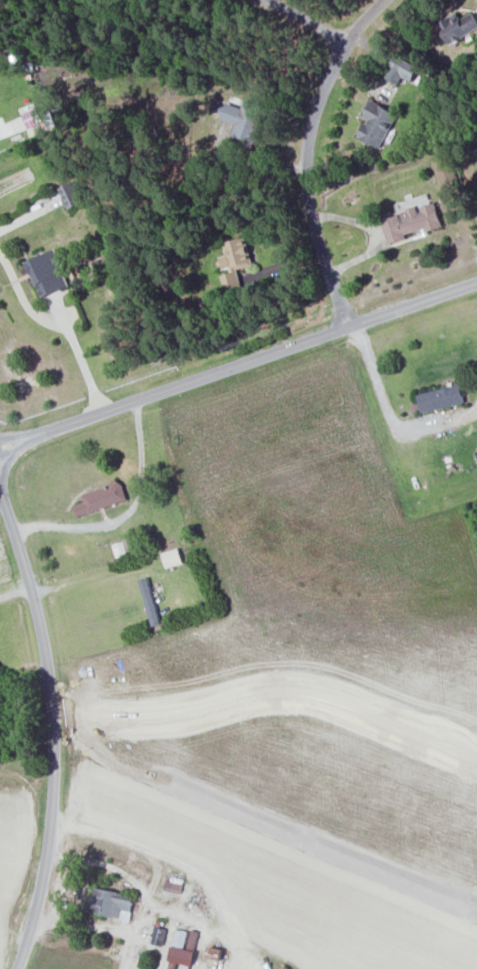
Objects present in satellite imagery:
road: (305, 18)
building: (459, 27)
building: (404, 70)
building: (35, 118)
building: (245, 120)
building: (378, 124)
road: (305, 155)
building: (446, 171)
building: (76, 194)
building: (412, 222)
building: (236, 263)
building: (50, 274)
road: (62, 323)
road: (238, 365)
building: (441, 399)
road: (391, 417)
building: (102, 499)
road: (125, 516)
building: (173, 558)
road: (80, 581)
road: (14, 590)
building: (150, 601)
road: (52, 730)
building: (174, 884)
road: (158, 896)
building: (112, 903)
road: (101, 926)
building: (181, 951)

